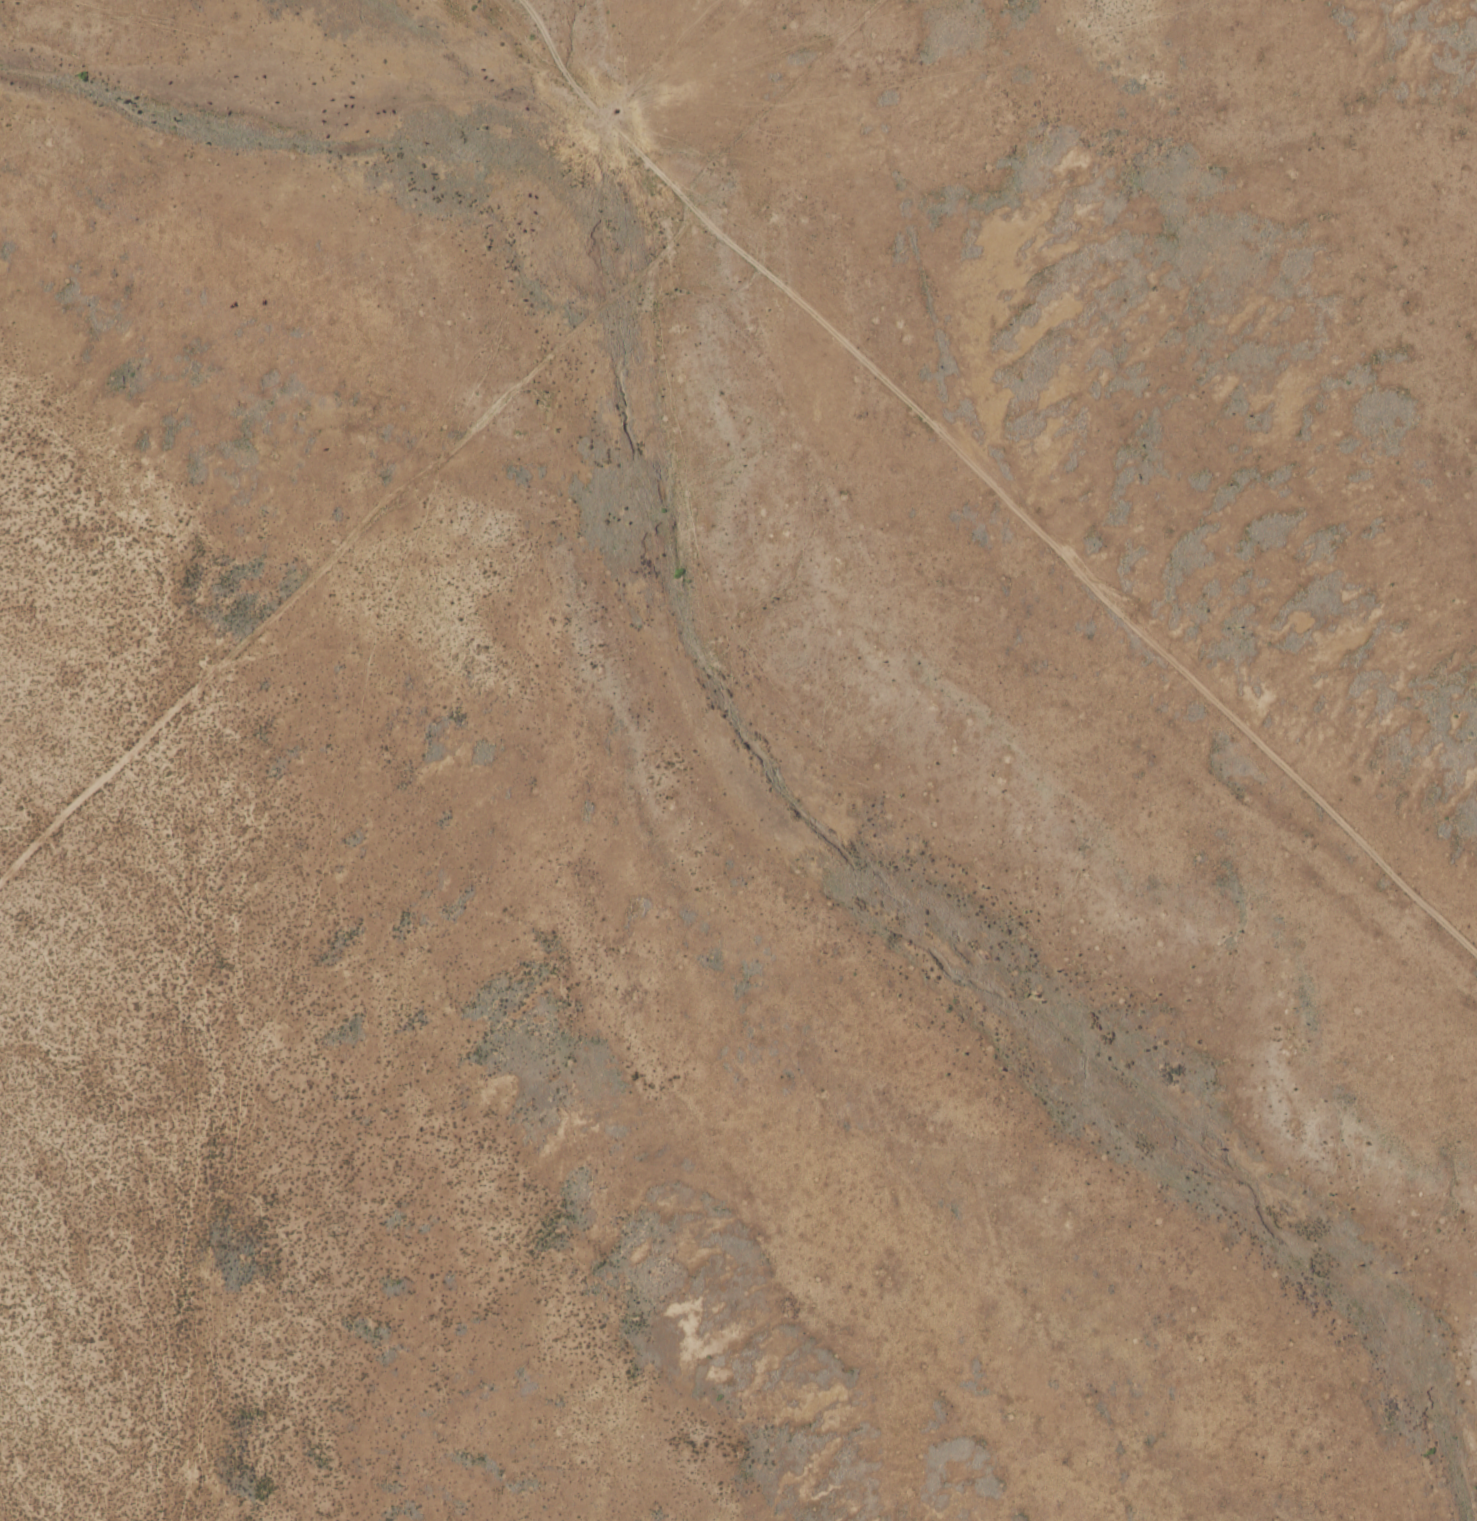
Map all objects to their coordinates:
road: (1074, 560)

